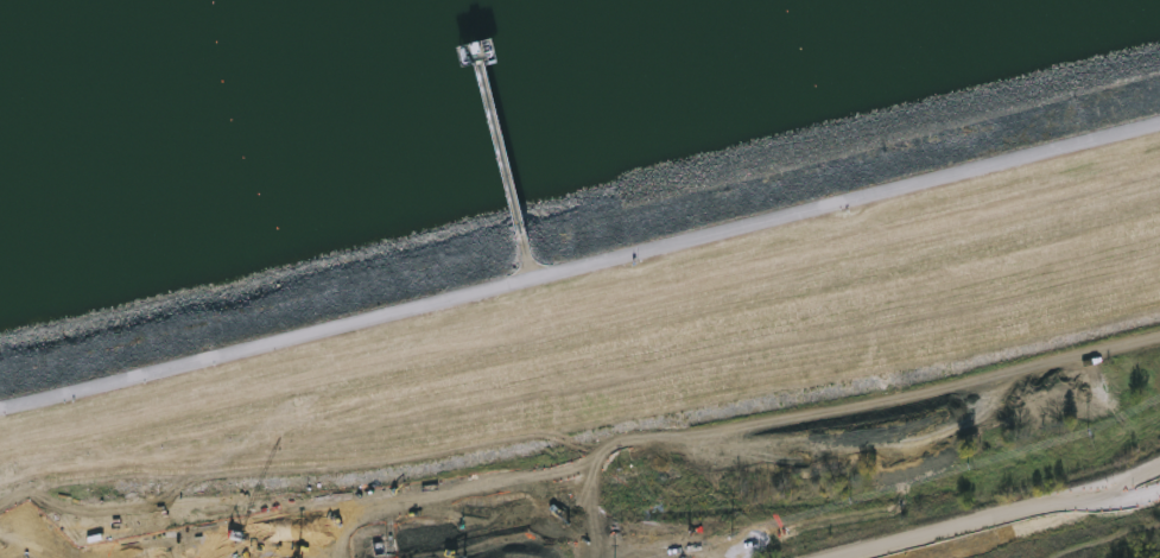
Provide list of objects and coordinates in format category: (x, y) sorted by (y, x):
road: (478, 39)
road: (502, 144)
road: (528, 252)
road: (579, 265)
dam: (613, 299)
road: (996, 515)

